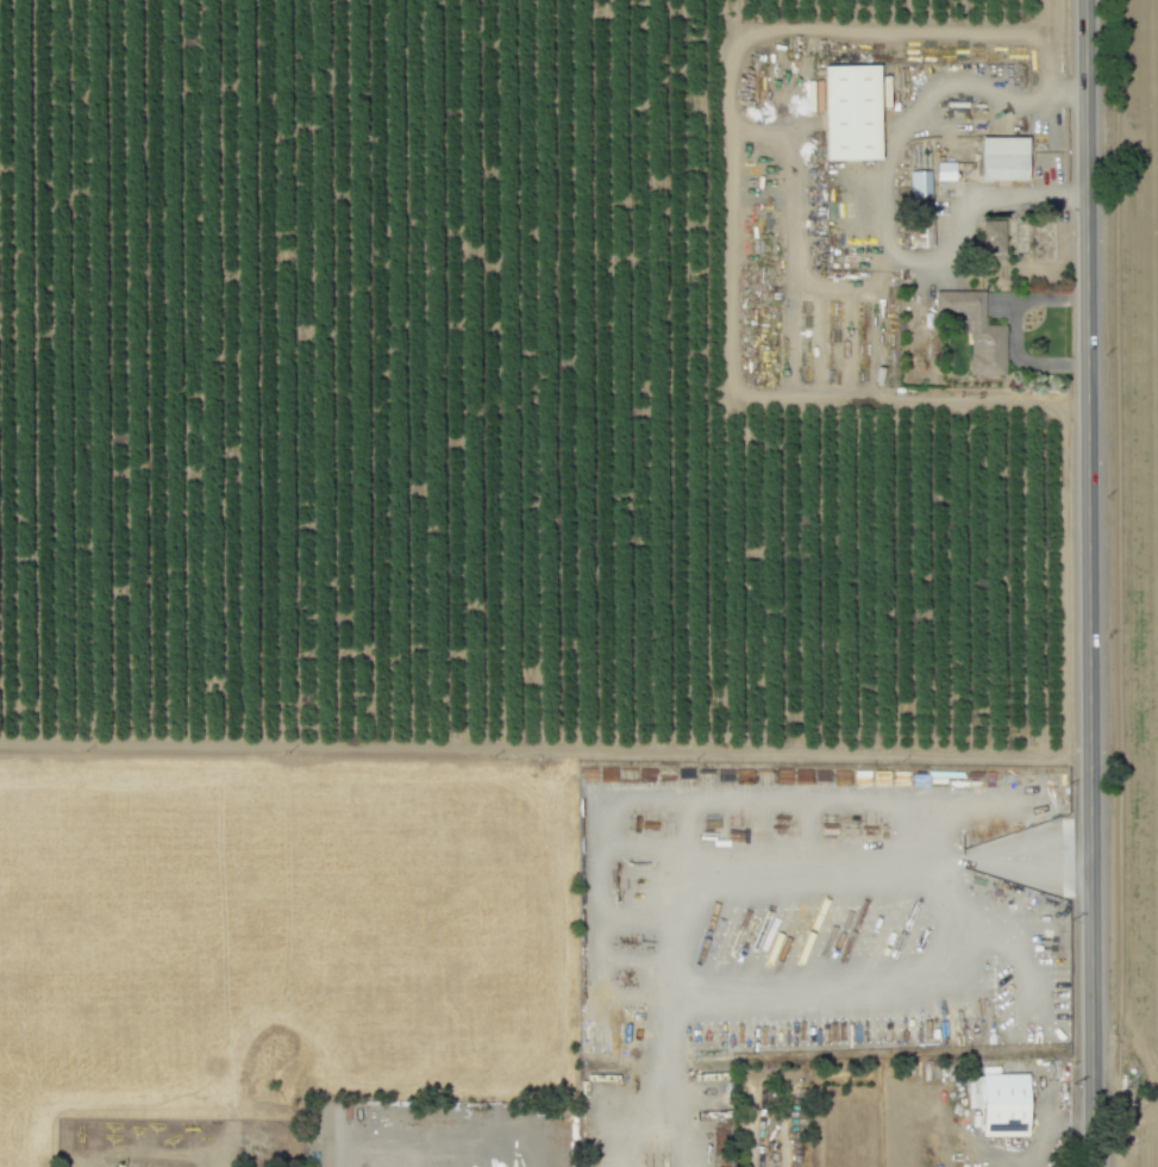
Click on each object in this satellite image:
building: (850, 112)
building: (1002, 158)
building: (944, 170)
building: (920, 208)
road: (725, 210)
road: (874, 217)
building: (991, 235)
building: (976, 331)
road: (1013, 331)
crop: (1141, 511)
road: (1087, 528)
road: (684, 924)
crop: (278, 930)
road: (658, 1050)
building: (1000, 1103)
road: (1093, 1112)
road: (361, 1130)
road: (634, 1137)
road: (681, 1137)
crop: (1146, 1141)
road: (421, 1149)

